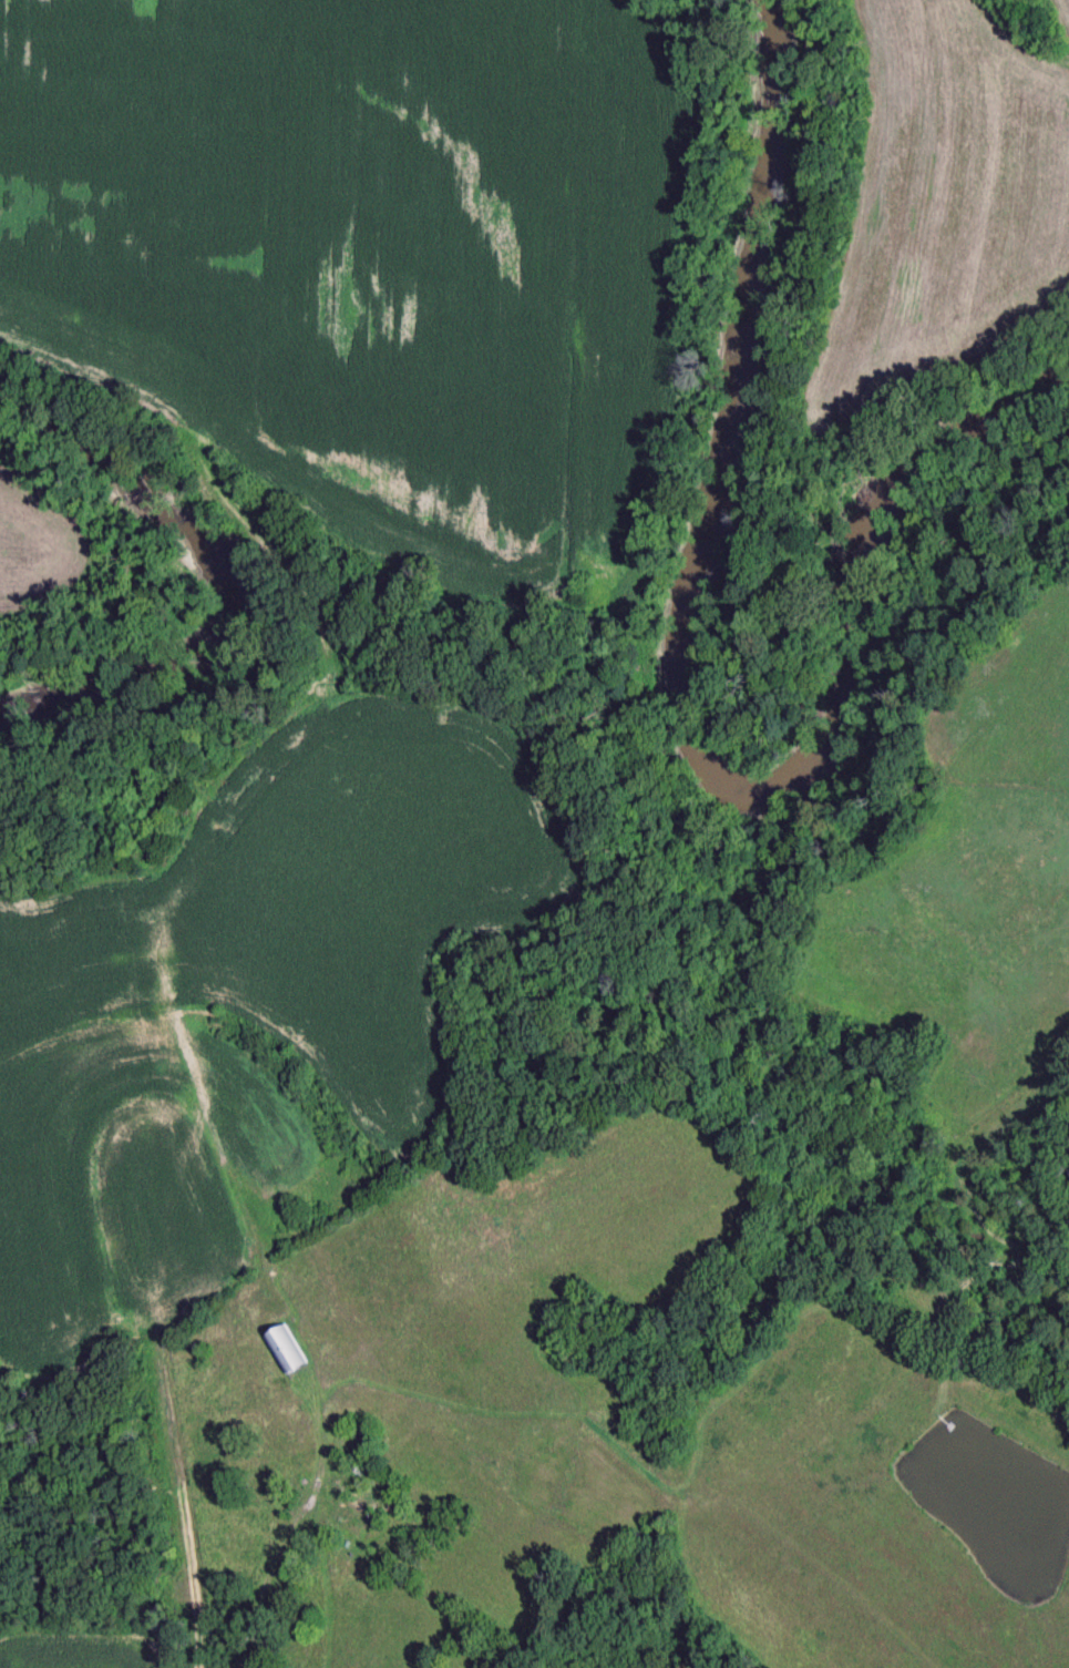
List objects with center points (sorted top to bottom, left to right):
river: (223, 581)
river: (701, 709)
building: (287, 1353)
building: (299, 1618)

